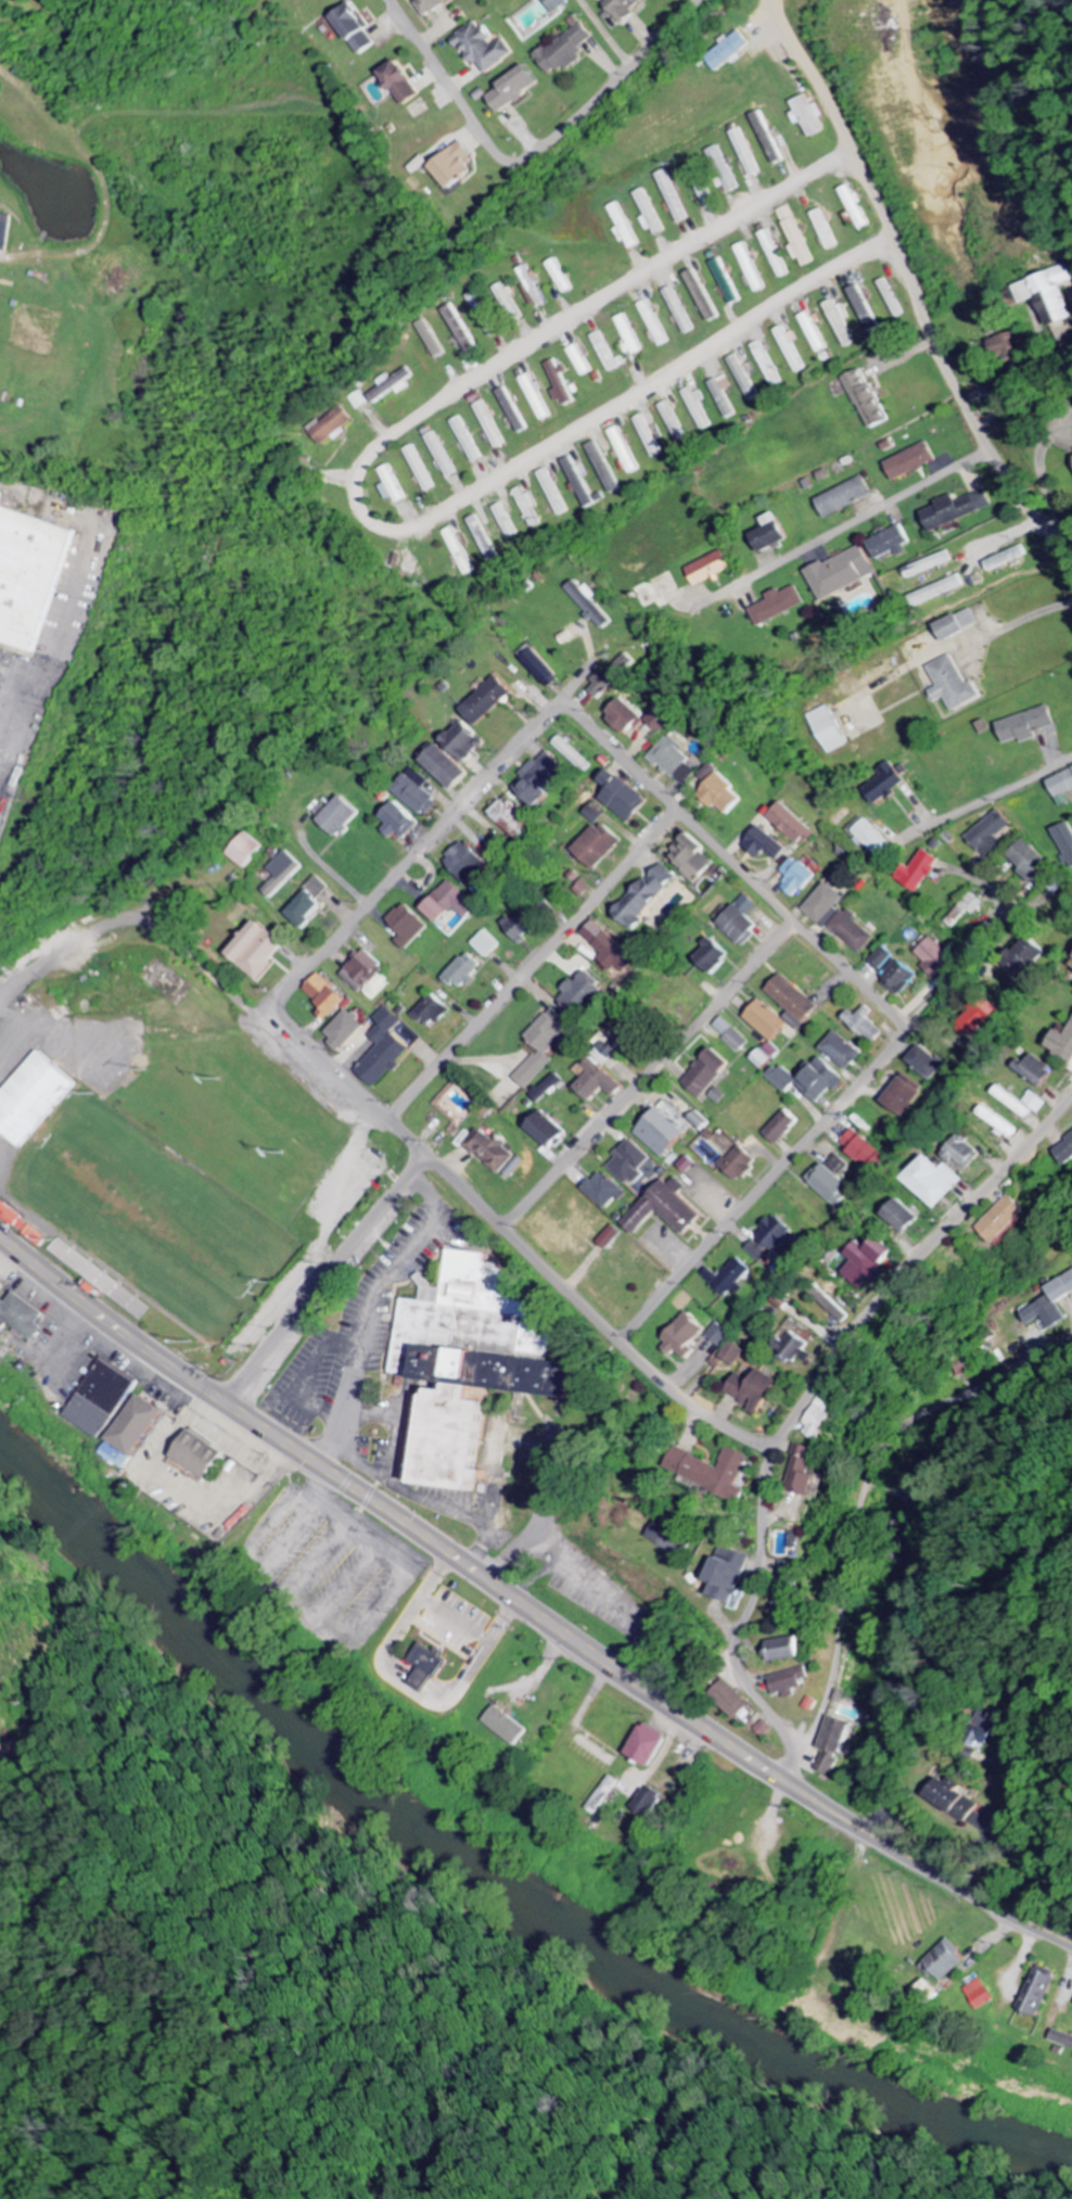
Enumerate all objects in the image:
building: (559, 4)
building: (434, 5)
building: (627, 9)
building: (359, 28)
building: (486, 48)
building: (569, 50)
building: (733, 51)
building: (407, 84)
building: (519, 88)
building: (812, 117)
road: (554, 138)
building: (768, 139)
building: (748, 154)
building: (717, 156)
building: (461, 166)
building: (702, 186)
building: (676, 196)
building: (859, 208)
building: (651, 214)
building: (626, 226)
building: (826, 230)
building: (7, 231)
building: (799, 237)
building: (777, 255)
building: (753, 268)
building: (564, 277)
building: (728, 282)
building: (534, 288)
road: (910, 288)
building: (508, 294)
building: (1049, 295)
building: (703, 296)
building: (893, 298)
building: (867, 309)
road: (580, 313)
building: (486, 316)
building: (658, 325)
building: (842, 325)
building: (815, 333)
building: (630, 335)
building: (433, 338)
building: (1006, 344)
building: (791, 348)
building: (610, 355)
building: (583, 361)
building: (768, 365)
building: (744, 379)
building: (563, 384)
building: (394, 385)
building: (988, 394)
building: (725, 396)
road: (627, 398)
building: (538, 399)
building: (870, 402)
building: (513, 411)
building: (493, 425)
building: (336, 427)
building: (651, 437)
building: (469, 441)
building: (628, 452)
building: (915, 461)
building: (422, 470)
building: (394, 486)
building: (556, 493)
building: (848, 497)
building: (532, 508)
building: (959, 509)
building: (508, 522)
road: (841, 529)
building: (777, 534)
building: (892, 544)
building: (463, 552)
building: (1010, 559)
building: (933, 565)
building: (713, 569)
building: (845, 573)
building: (31, 574)
building: (942, 590)
building: (591, 603)
building: (781, 607)
building: (961, 626)
building: (544, 669)
building: (615, 677)
building: (955, 686)
building: (492, 701)
building: (628, 716)
building: (664, 720)
building: (1032, 726)
building: (834, 730)
building: (471, 743)
building: (580, 762)
building: (677, 762)
building: (455, 768)
building: (541, 783)
building: (889, 785)
building: (1063, 785)
building: (419, 792)
building: (726, 796)
road: (993, 796)
building: (633, 804)
building: (346, 817)
building: (405, 822)
building: (516, 822)
building: (795, 825)
building: (991, 834)
building: (871, 839)
building: (1065, 842)
building: (602, 846)
building: (767, 846)
road: (417, 851)
building: (252, 852)
building: (469, 862)
building: (693, 862)
building: (1031, 862)
road: (735, 864)
building: (919, 872)
building: (284, 874)
building: (799, 877)
building: (649, 898)
building: (454, 904)
building: (827, 905)
building: (311, 906)
building: (744, 923)
building: (411, 926)
building: (526, 926)
building: (855, 932)
building: (487, 944)
building: (263, 950)
building: (611, 951)
building: (717, 957)
building: (884, 958)
building: (935, 959)
building: (1026, 959)
road: (532, 965)
building: (468, 971)
building: (367, 973)
building: (903, 979)
building: (585, 994)
building: (331, 997)
building: (797, 1001)
building: (435, 1013)
building: (978, 1016)
building: (769, 1021)
building: (387, 1026)
road: (868, 1027)
building: (725, 1028)
building: (868, 1028)
building: (349, 1031)
building: (738, 1042)
building: (1063, 1044)
building: (544, 1046)
building: (844, 1052)
building: (765, 1062)
building: (928, 1063)
road: (648, 1073)
building: (711, 1073)
building: (813, 1081)
building: (550, 1089)
building: (904, 1095)
building: (37, 1099)
building: (1017, 1103)
building: (1037, 1103)
building: (1000, 1122)
building: (704, 1123)
building: (786, 1128)
road: (817, 1130)
building: (550, 1132)
building: (664, 1134)
building: (493, 1151)
building: (963, 1152)
building: (1065, 1153)
building: (633, 1162)
building: (742, 1165)
building: (831, 1181)
building: (936, 1182)
building: (605, 1192)
building: (671, 1210)
building: (904, 1217)
building: (1005, 1220)
park: (157, 1221)
building: (613, 1238)
road: (515, 1240)
building: (770, 1241)
building: (867, 1267)
building: (731, 1278)
road: (323, 1279)
building: (1063, 1291)
building: (1047, 1313)
building: (30, 1314)
building: (4, 1324)
building: (720, 1334)
building: (689, 1336)
building: (796, 1347)
building: (737, 1353)
building: (475, 1362)
building: (757, 1387)
building: (106, 1399)
road: (803, 1401)
building: (821, 1418)
building: (144, 1425)
building: (120, 1456)
building: (206, 1456)
building: (716, 1471)
building: (812, 1472)
road: (875, 1473)
building: (797, 1540)
building: (671, 1541)
building: (730, 1576)
building: (791, 1589)
road: (527, 1603)
building: (789, 1649)
building: (433, 1665)
building: (792, 1681)
building: (737, 1700)
building: (510, 1726)
road: (808, 1737)
building: (839, 1743)
building: (654, 1745)
building: (956, 1800)
building: (651, 1801)
river: (488, 1881)
building: (950, 1960)
building: (1039, 1991)
building: (982, 1995)
building: (1062, 2039)

